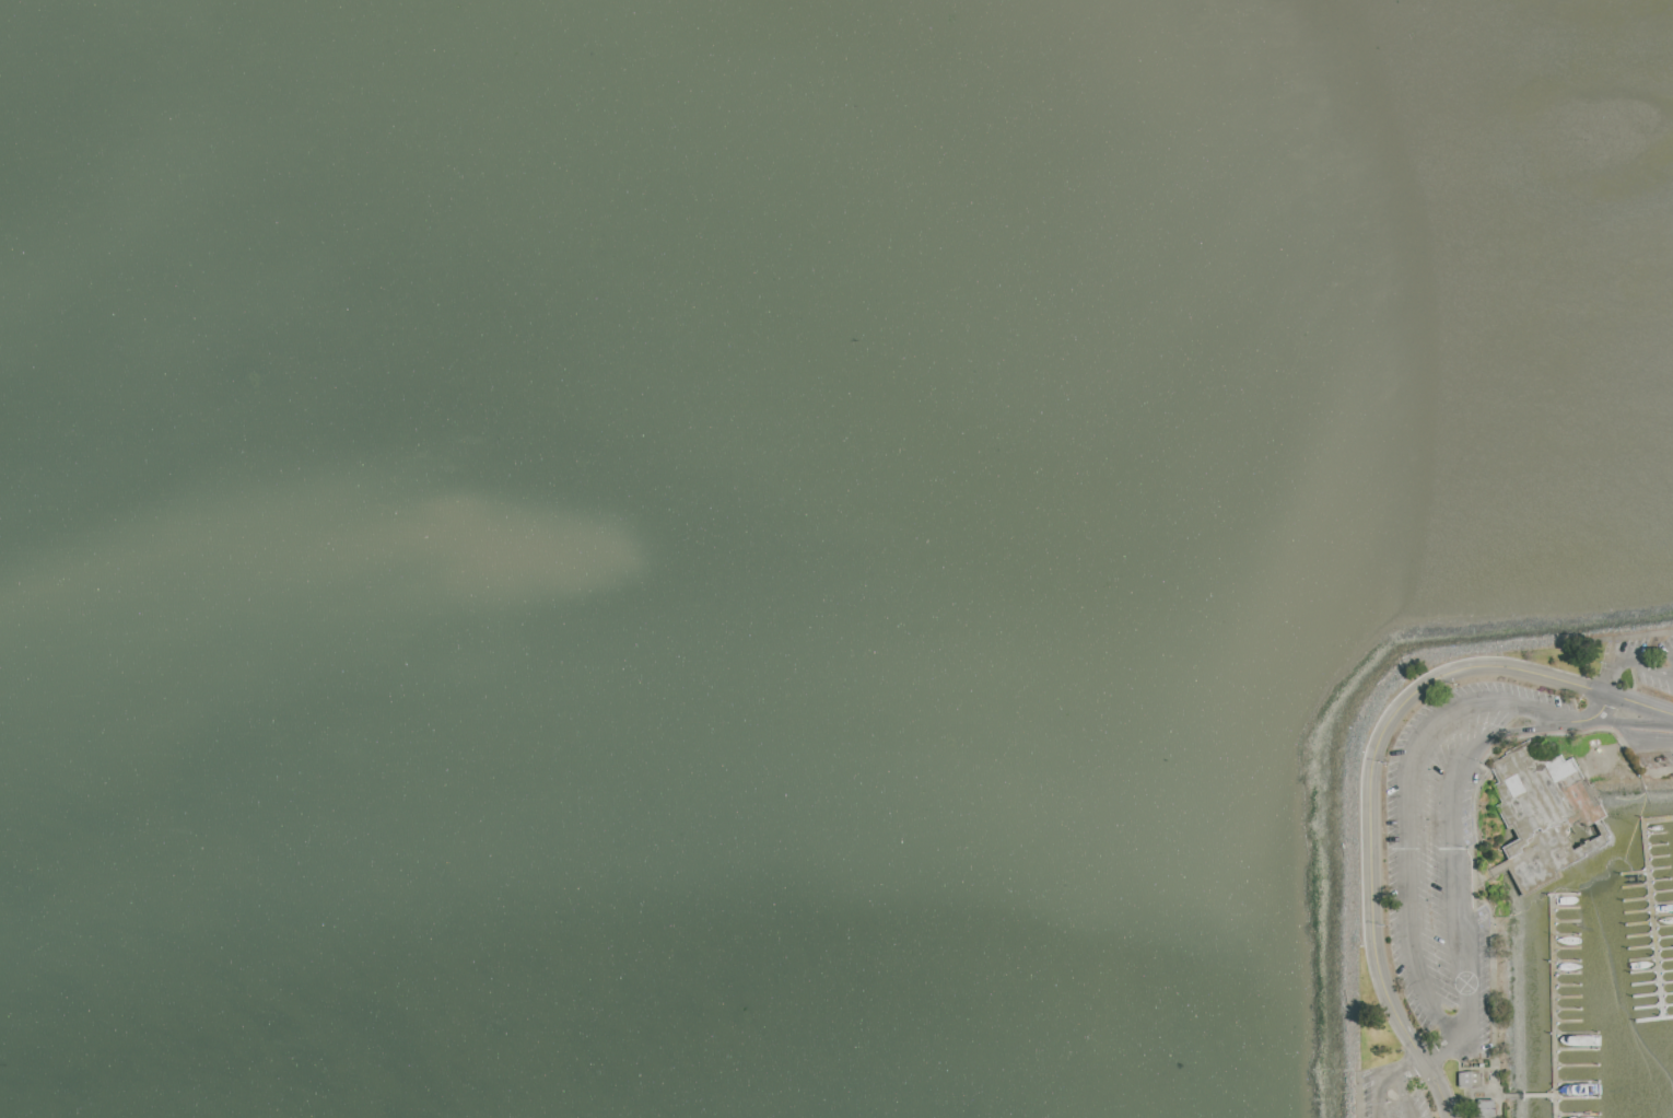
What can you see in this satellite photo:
road: (1618, 639)
road: (1613, 677)
road: (1370, 771)
building: (1548, 813)
road: (1476, 838)
pier: (1651, 905)
road: (1429, 1003)
pier: (1557, 1009)
road: (1425, 1061)
building: (1471, 1080)
road: (1357, 1095)
pier: (1526, 1096)
road: (1400, 1102)
road: (1380, 1103)
building: (1486, 1108)

